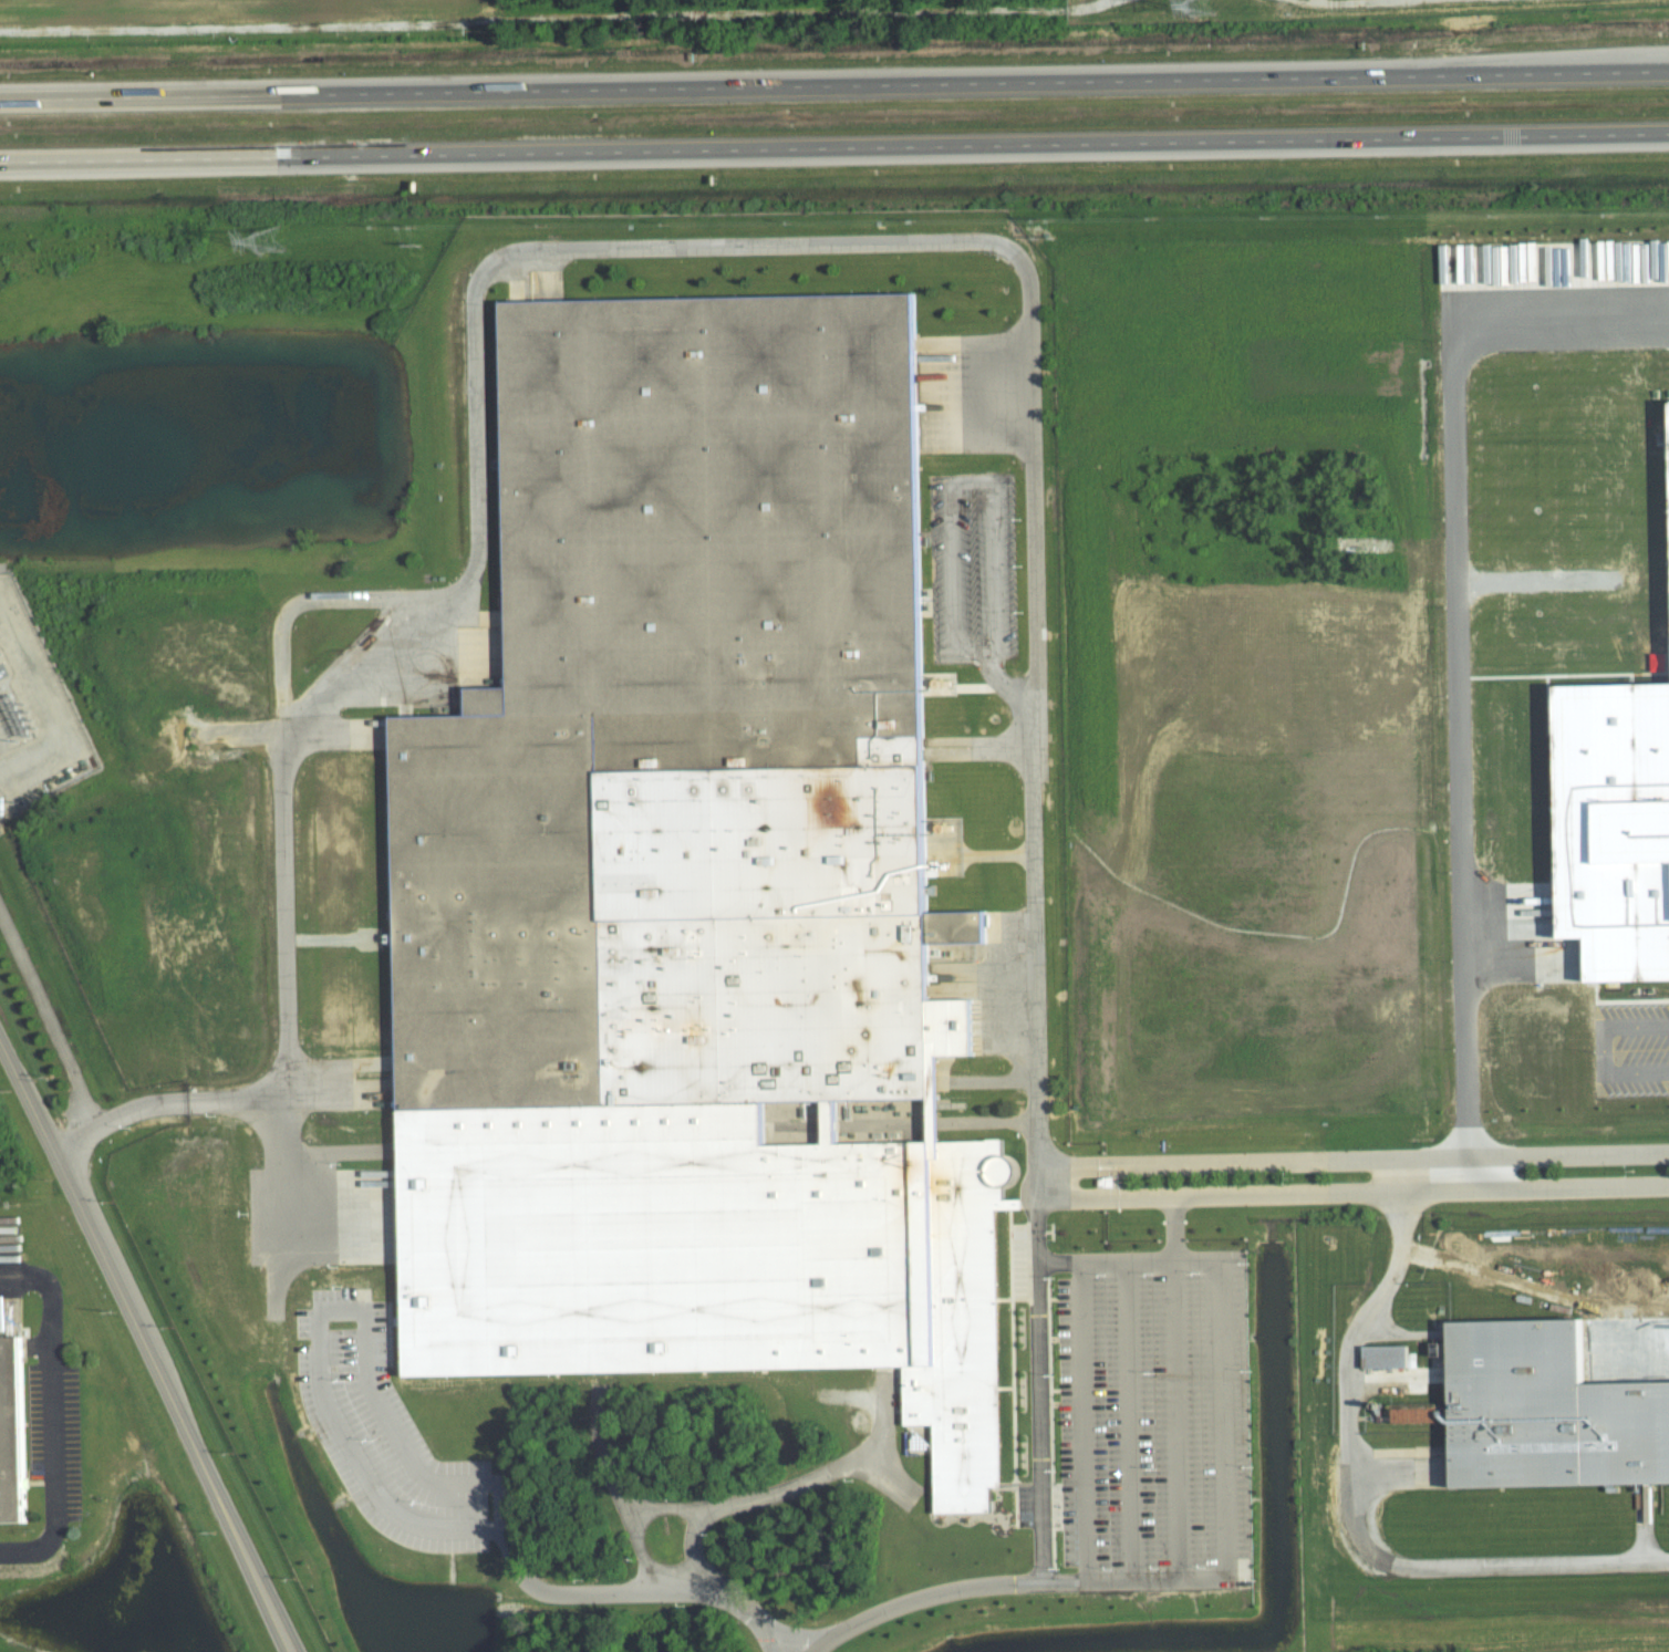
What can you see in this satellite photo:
power tower: (1201, 4)
road: (834, 84)
road: (834, 147)
power tower: (267, 239)
road: (598, 246)
building: (1662, 445)
road: (986, 477)
building: (1668, 507)
road: (1453, 638)
road: (43, 698)
power substation: (33, 714)
building: (685, 735)
building: (0, 806)
building: (1614, 813)
road: (49, 1018)
road: (1607, 1048)
road: (1388, 1157)
road: (1072, 1164)
road: (1401, 1174)
road: (1389, 1191)
road: (1074, 1197)
road: (1400, 1219)
road: (1236, 1259)
road: (145, 1346)
building: (1380, 1355)
road: (364, 1371)
road: (1039, 1381)
road: (1190, 1386)
road: (53, 1412)
building: (1548, 1412)
road: (881, 1417)
road: (1144, 1419)
building: (10, 1433)
road: (608, 1459)
road: (809, 1478)
road: (1356, 1534)
road: (668, 1569)
road: (946, 1589)
road: (738, 1599)

